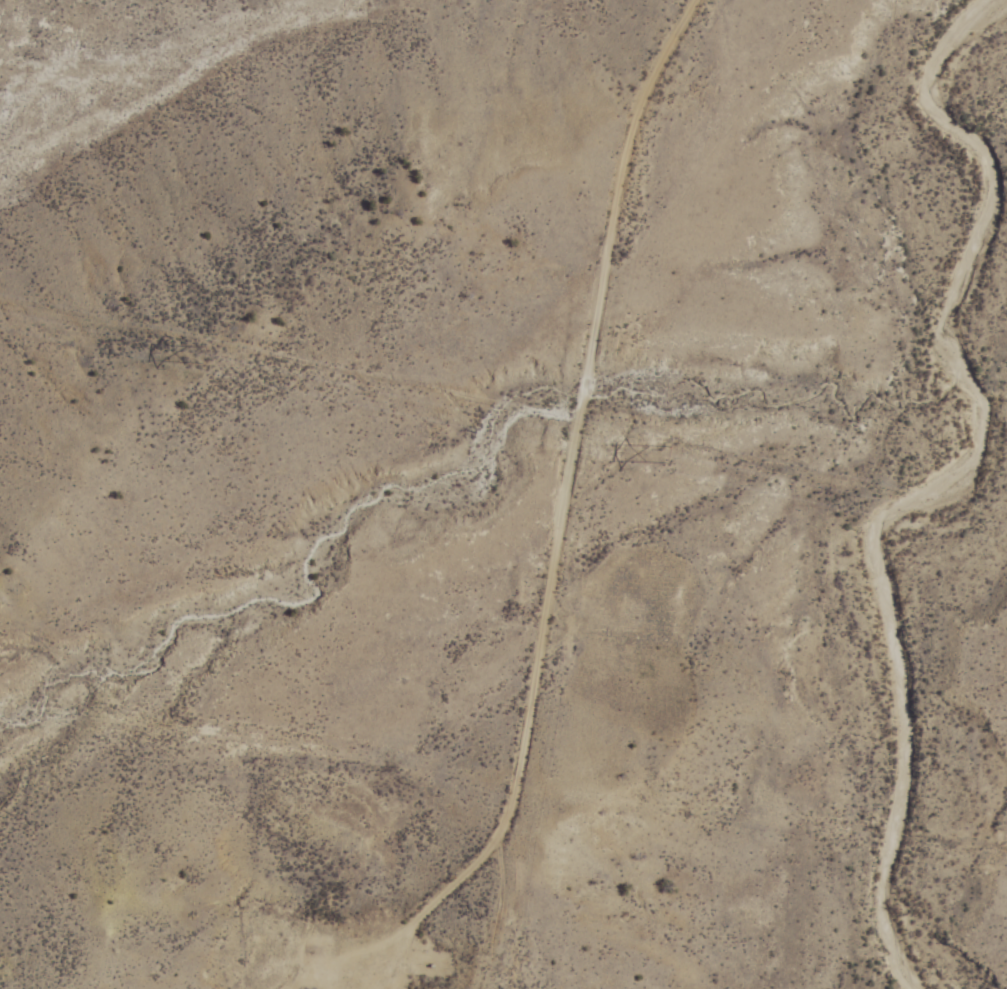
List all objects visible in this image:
power tower: (203, 353)
power tower: (662, 455)
road: (543, 475)
river: (922, 489)

